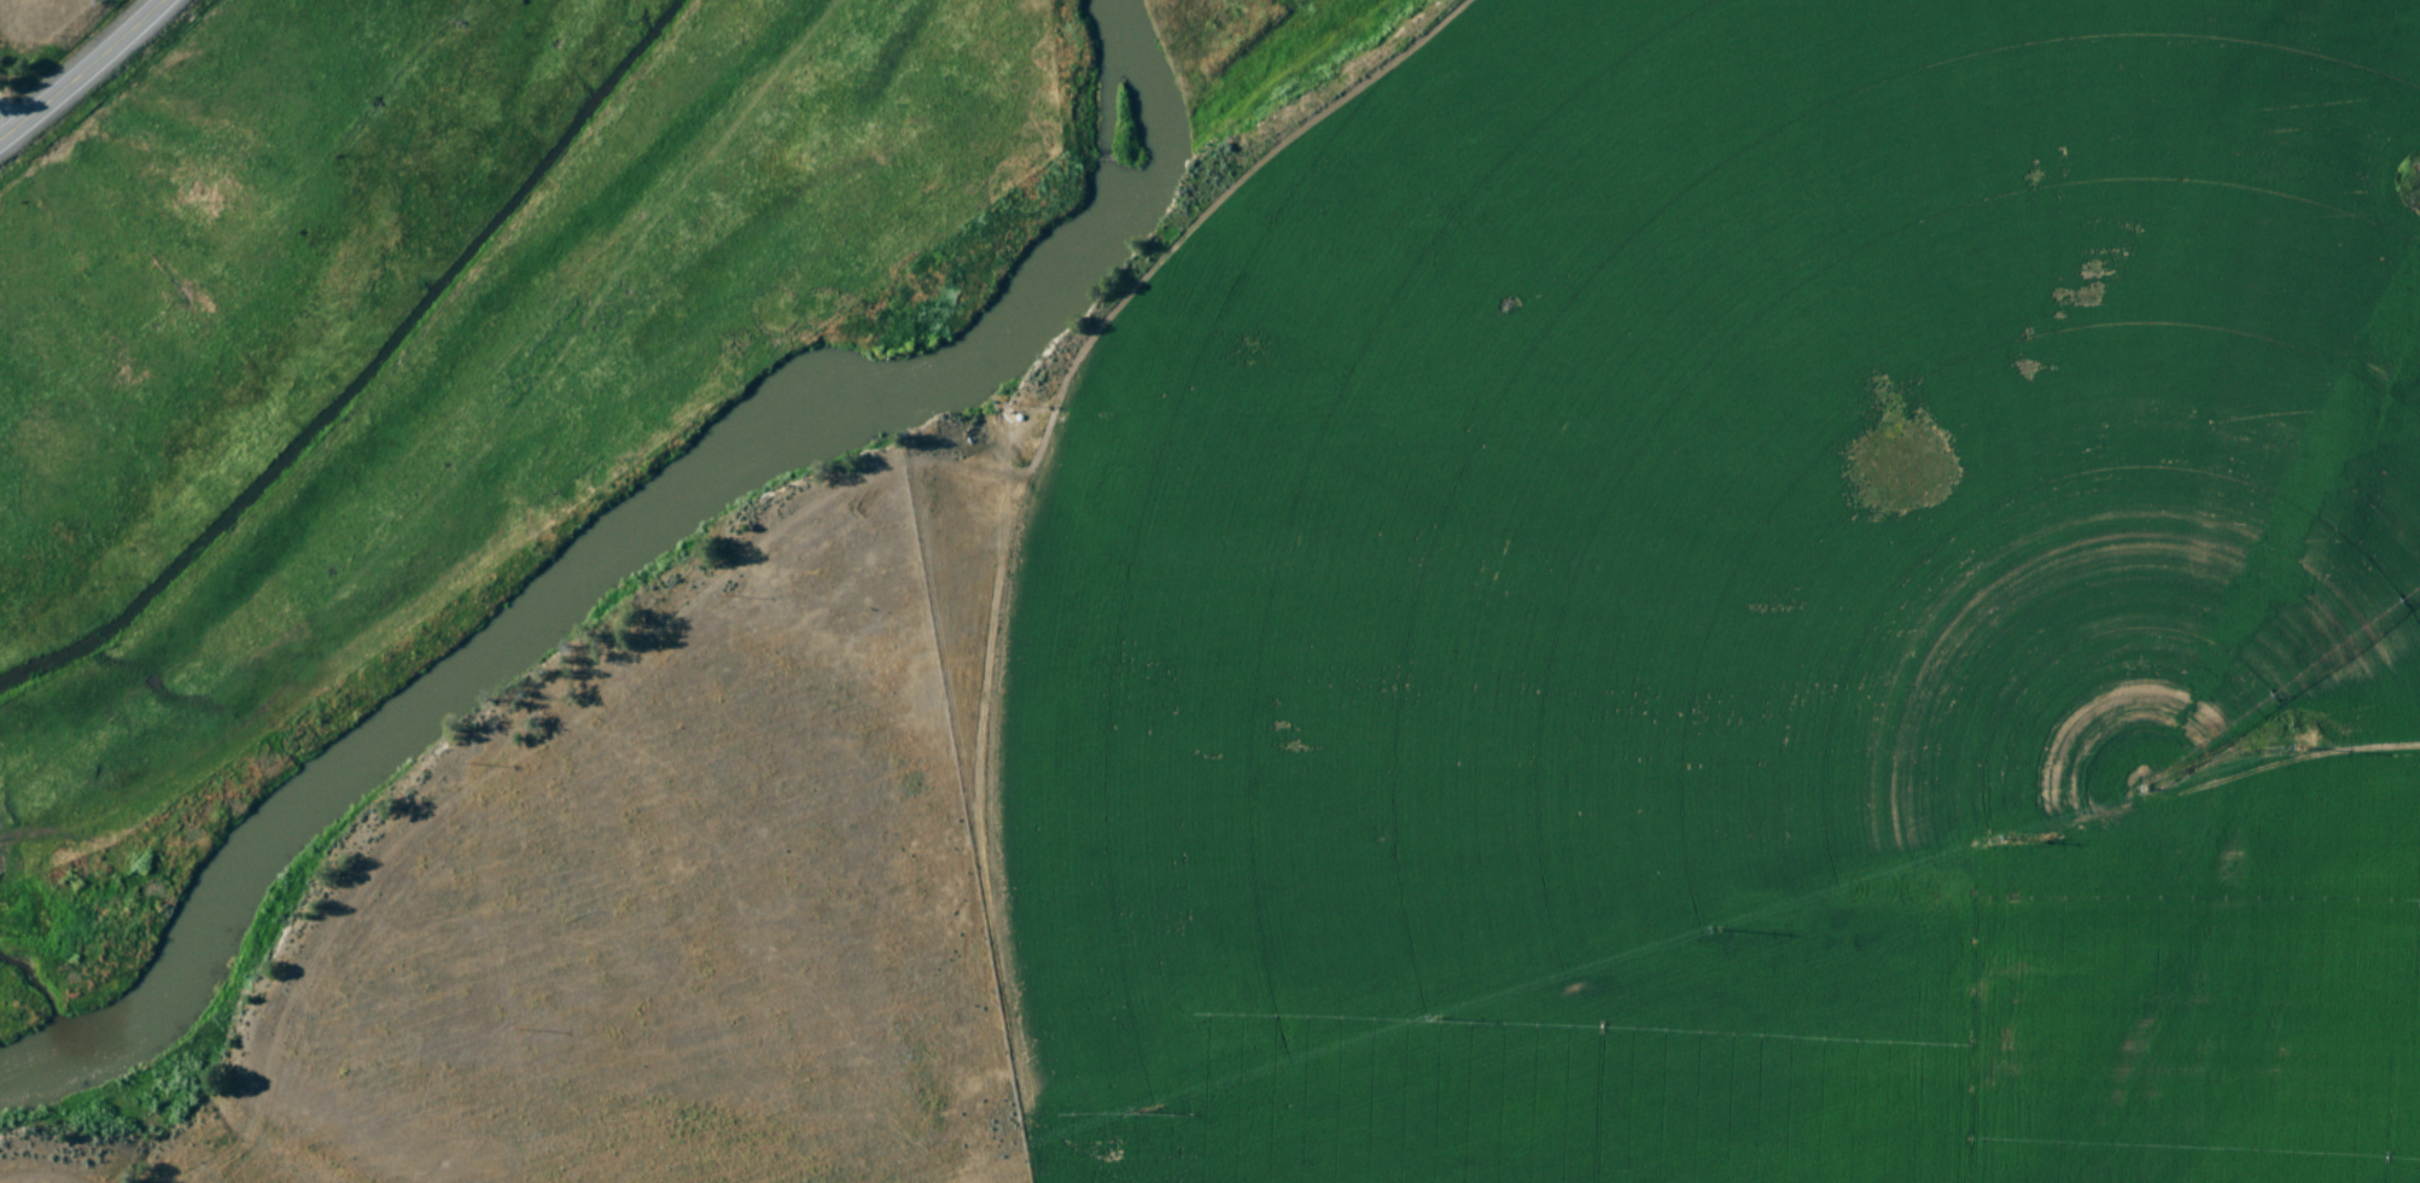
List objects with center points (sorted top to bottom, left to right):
road: (88, 76)
road: (11, 111)
river: (617, 537)
road: (2208, 975)

